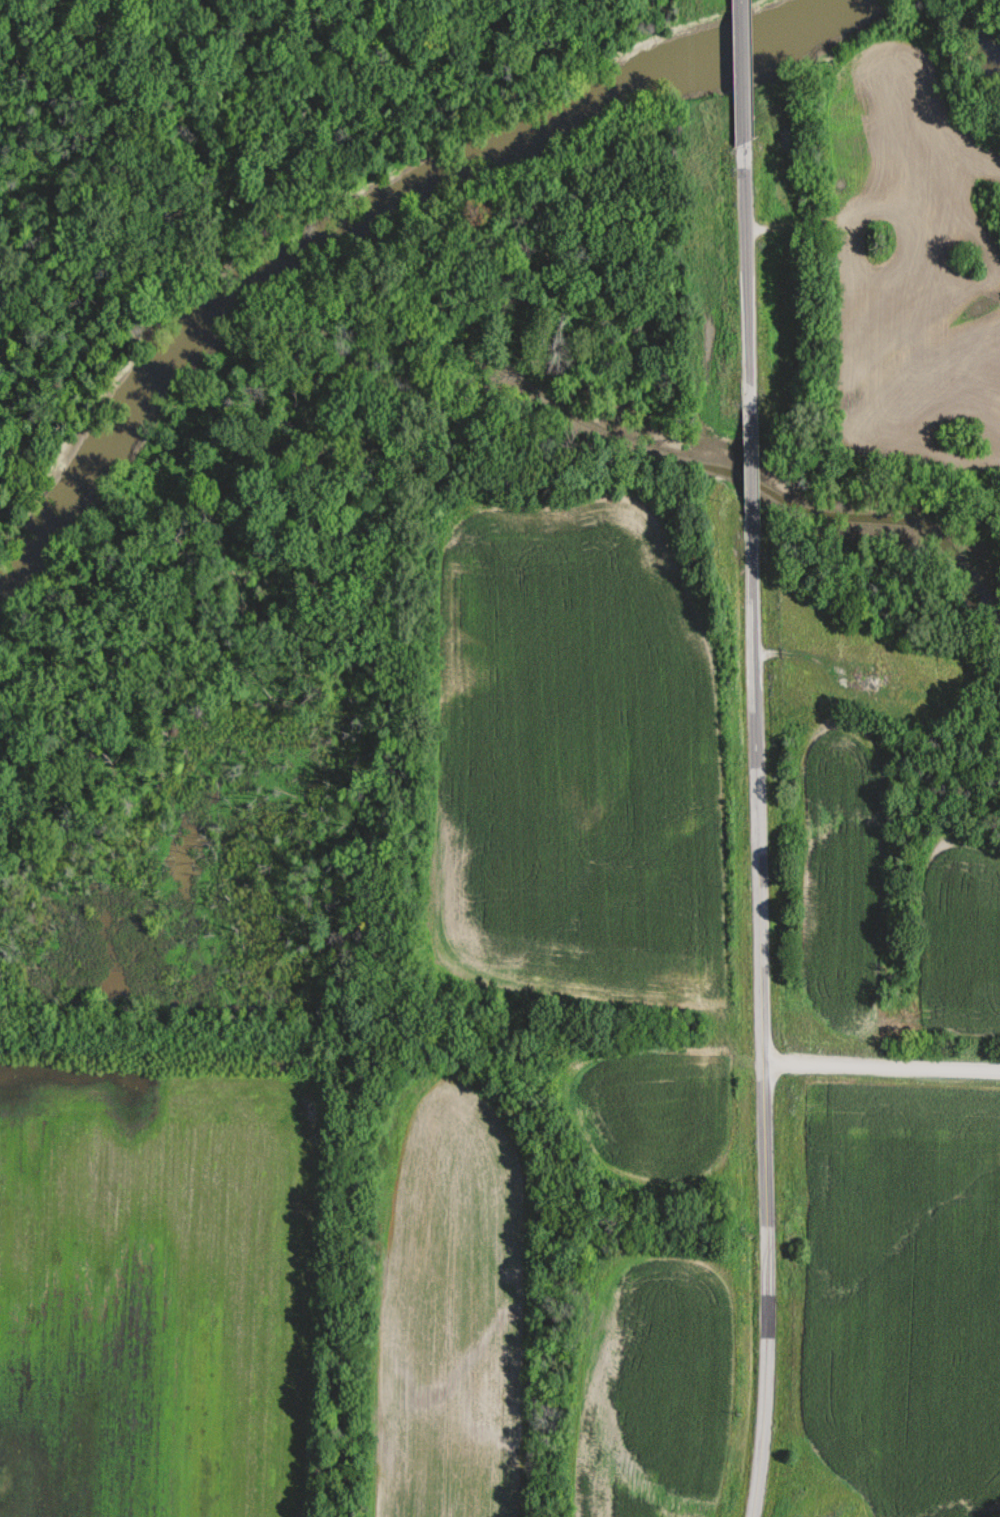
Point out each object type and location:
road: (756, 758)
road: (882, 1066)

